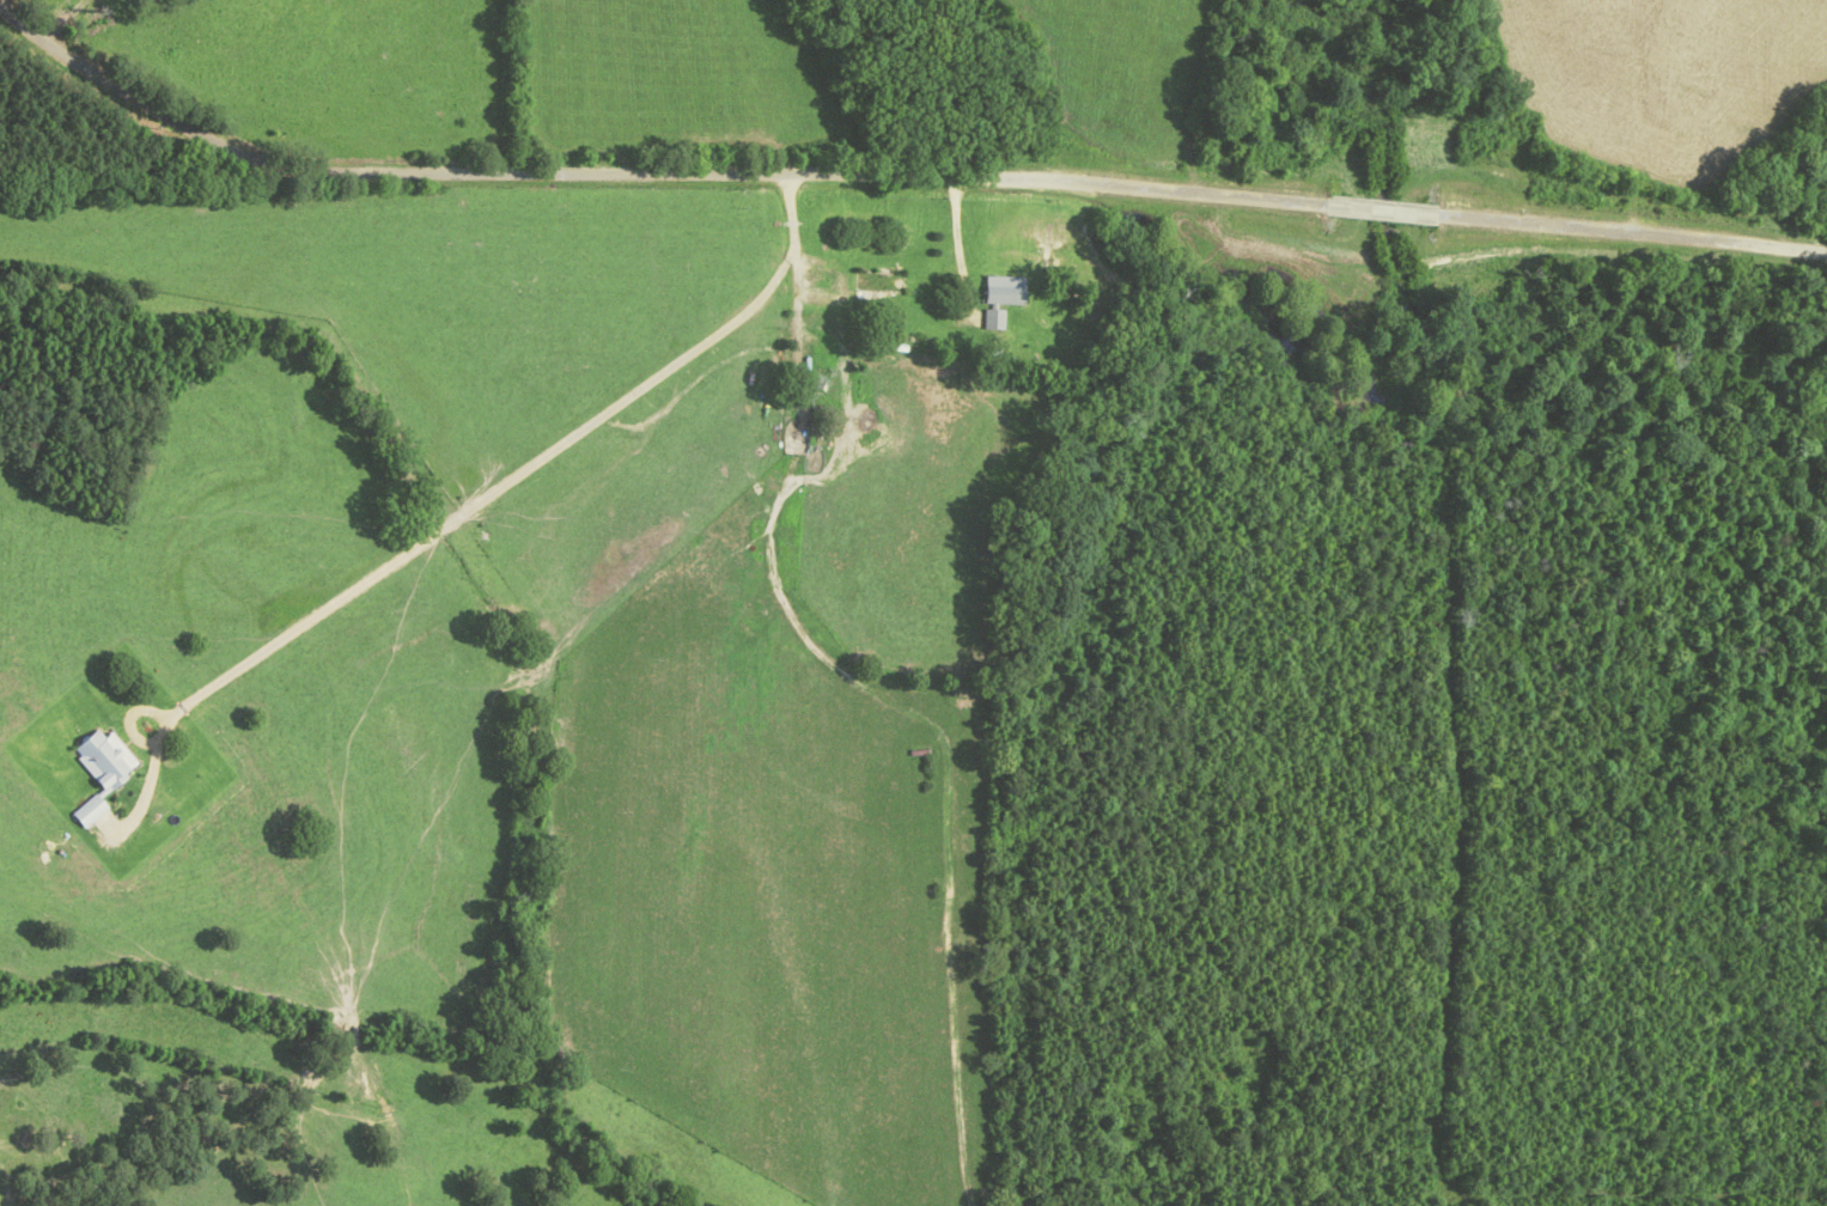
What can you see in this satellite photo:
road: (899, 160)
building: (872, 285)
building: (999, 293)
building: (989, 322)
building: (97, 761)
building: (84, 815)

